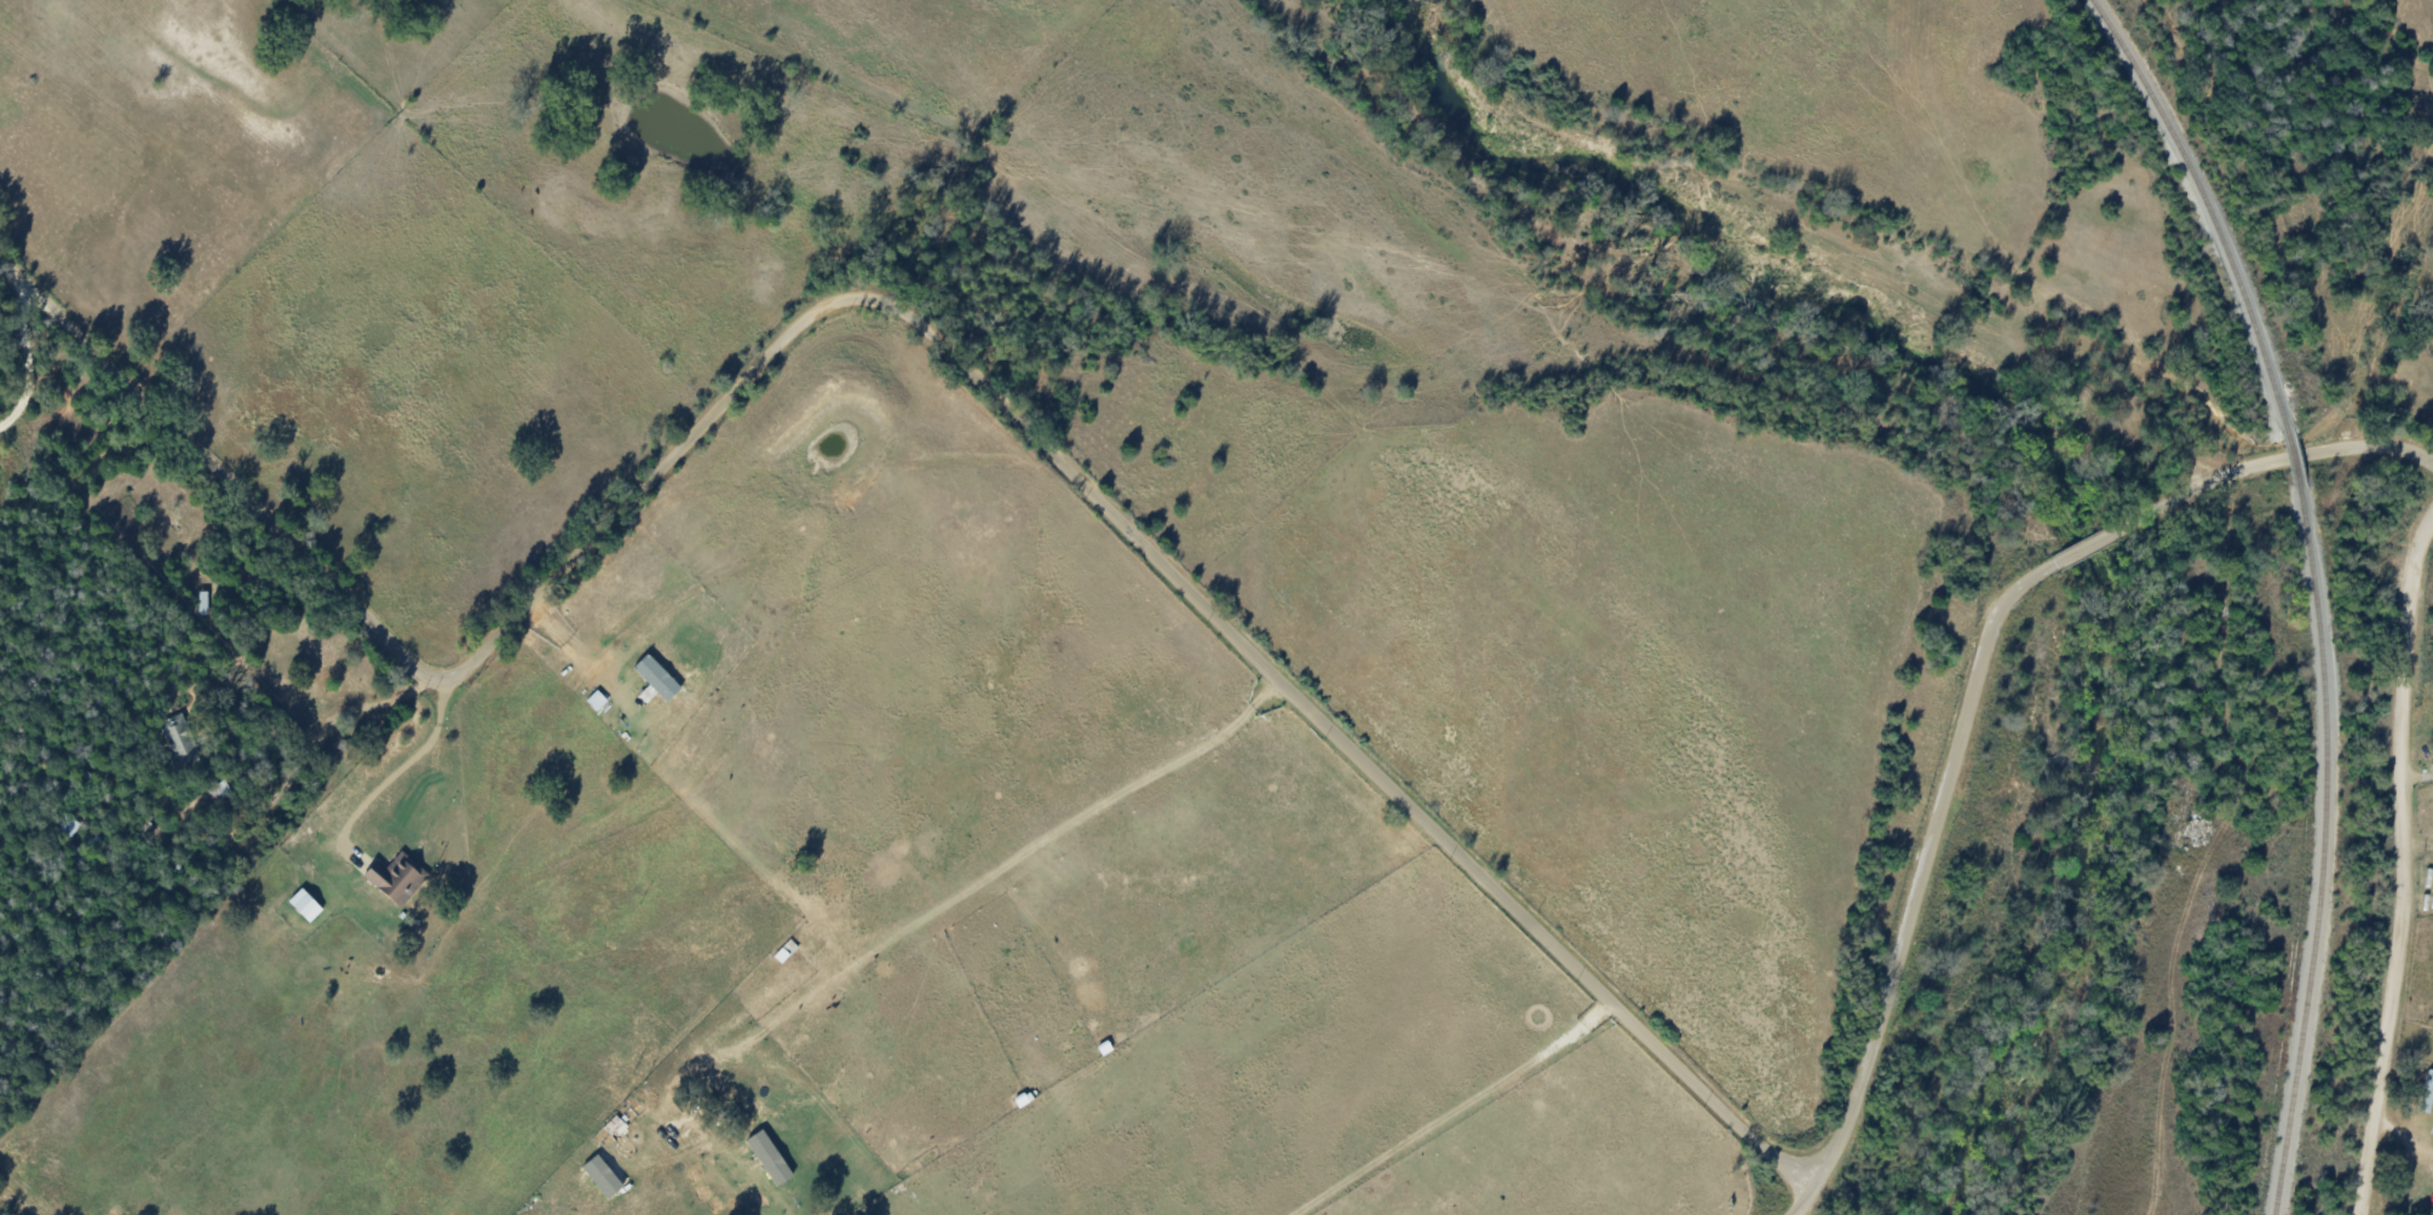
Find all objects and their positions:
railway: (2204, 208)
road: (914, 319)
park: (2405, 363)
road: (29, 373)
railway: (2291, 459)
building: (202, 603)
building: (656, 678)
road: (1977, 689)
building: (179, 739)
road: (401, 772)
railway: (2317, 851)
road: (2404, 864)
building: (396, 877)
building: (304, 905)
building: (2426, 1093)
road: (369, 1157)
building: (769, 1157)
building: (600, 1176)

